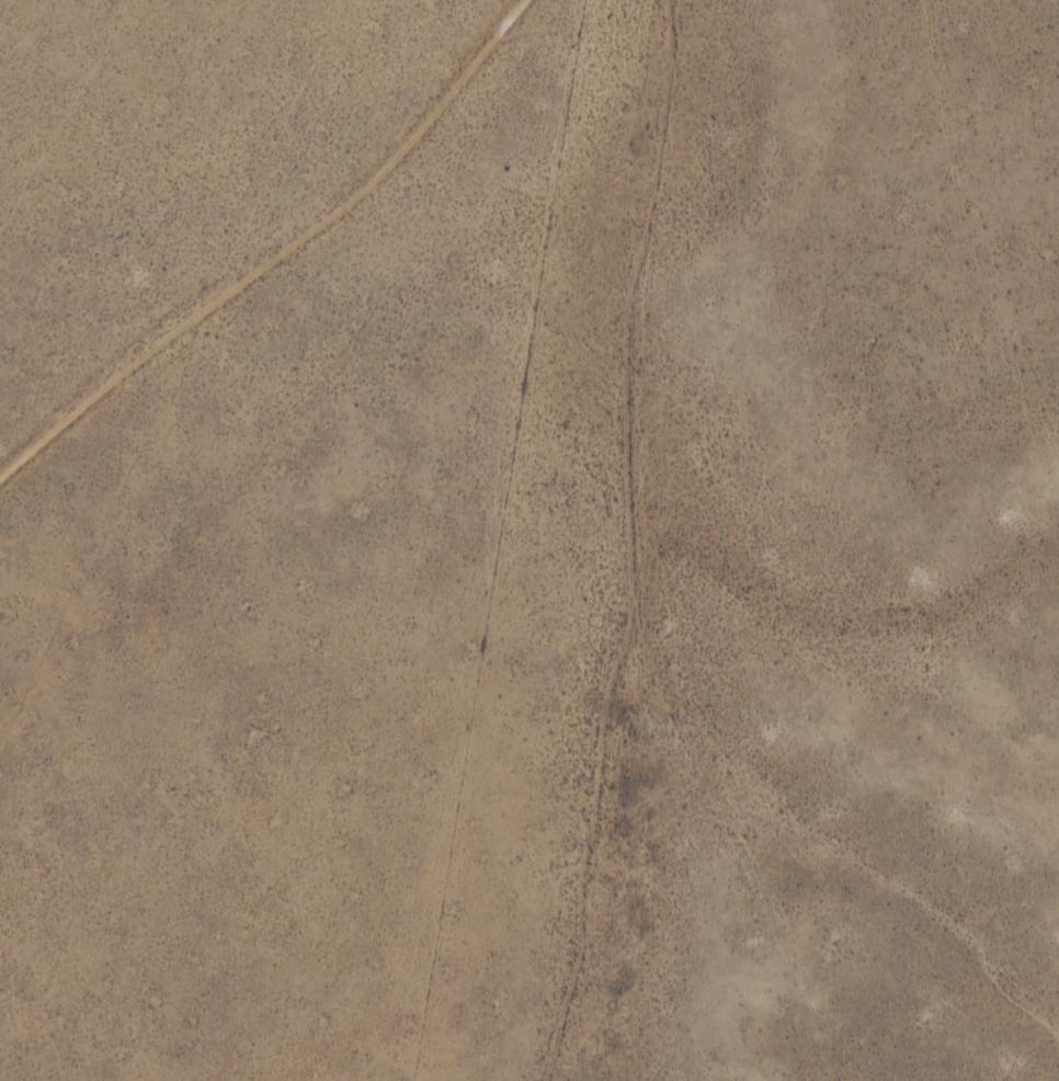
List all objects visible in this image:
road: (280, 253)

